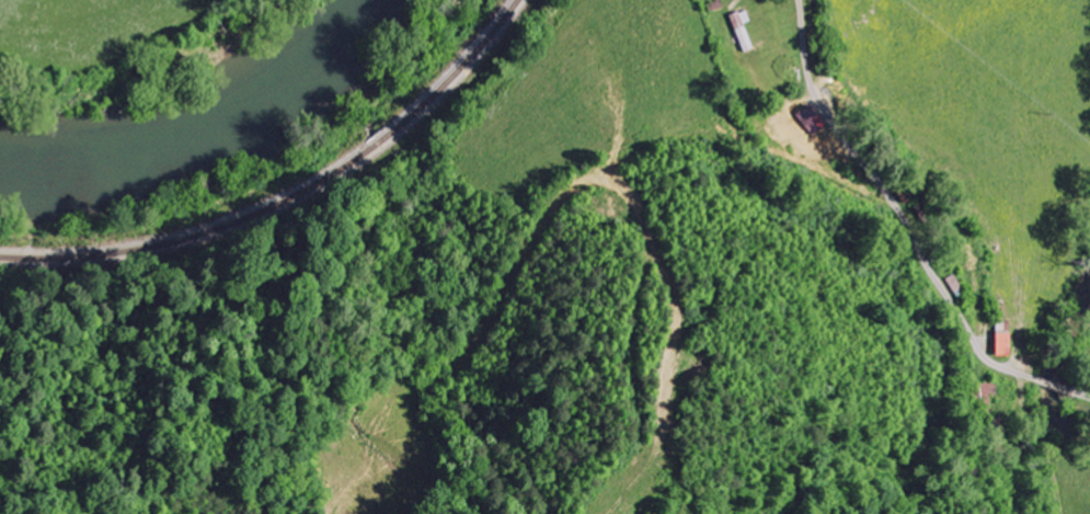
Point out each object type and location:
building: (743, 30)
river: (147, 77)
building: (812, 119)
railway: (290, 195)
road: (906, 229)
building: (955, 284)
building: (1003, 343)

